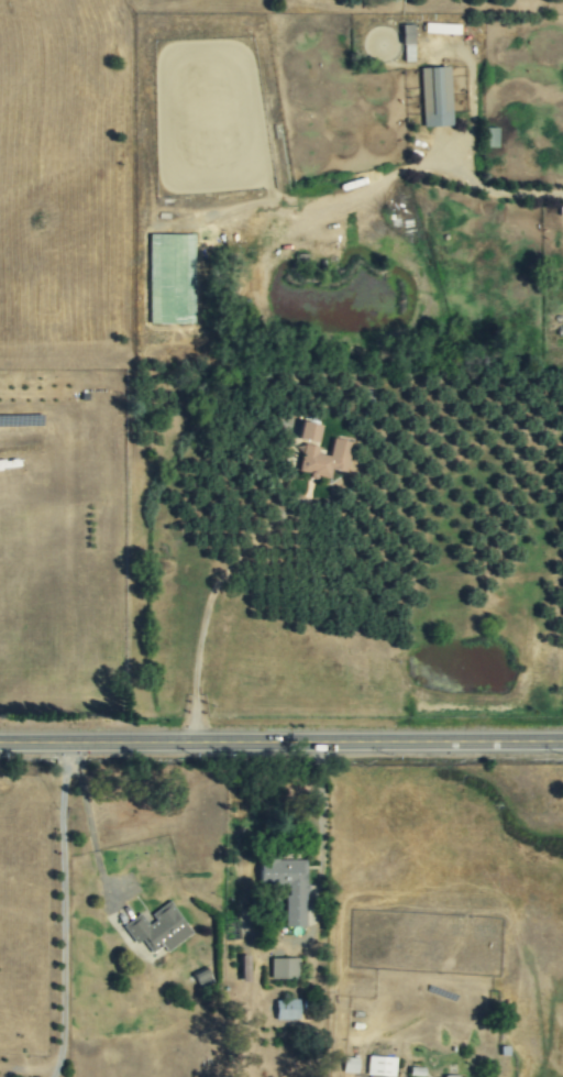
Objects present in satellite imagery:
building: (441, 28)
building: (407, 35)
building: (435, 97)
road: (498, 190)
building: (308, 431)
building: (327, 459)
road: (206, 615)
road: (281, 743)
road: (255, 818)
road: (321, 824)
building: (287, 886)
road: (65, 910)
building: (157, 928)
building: (244, 968)
building: (284, 968)
building: (201, 977)
building: (286, 1010)
building: (350, 1065)
building: (380, 1066)

